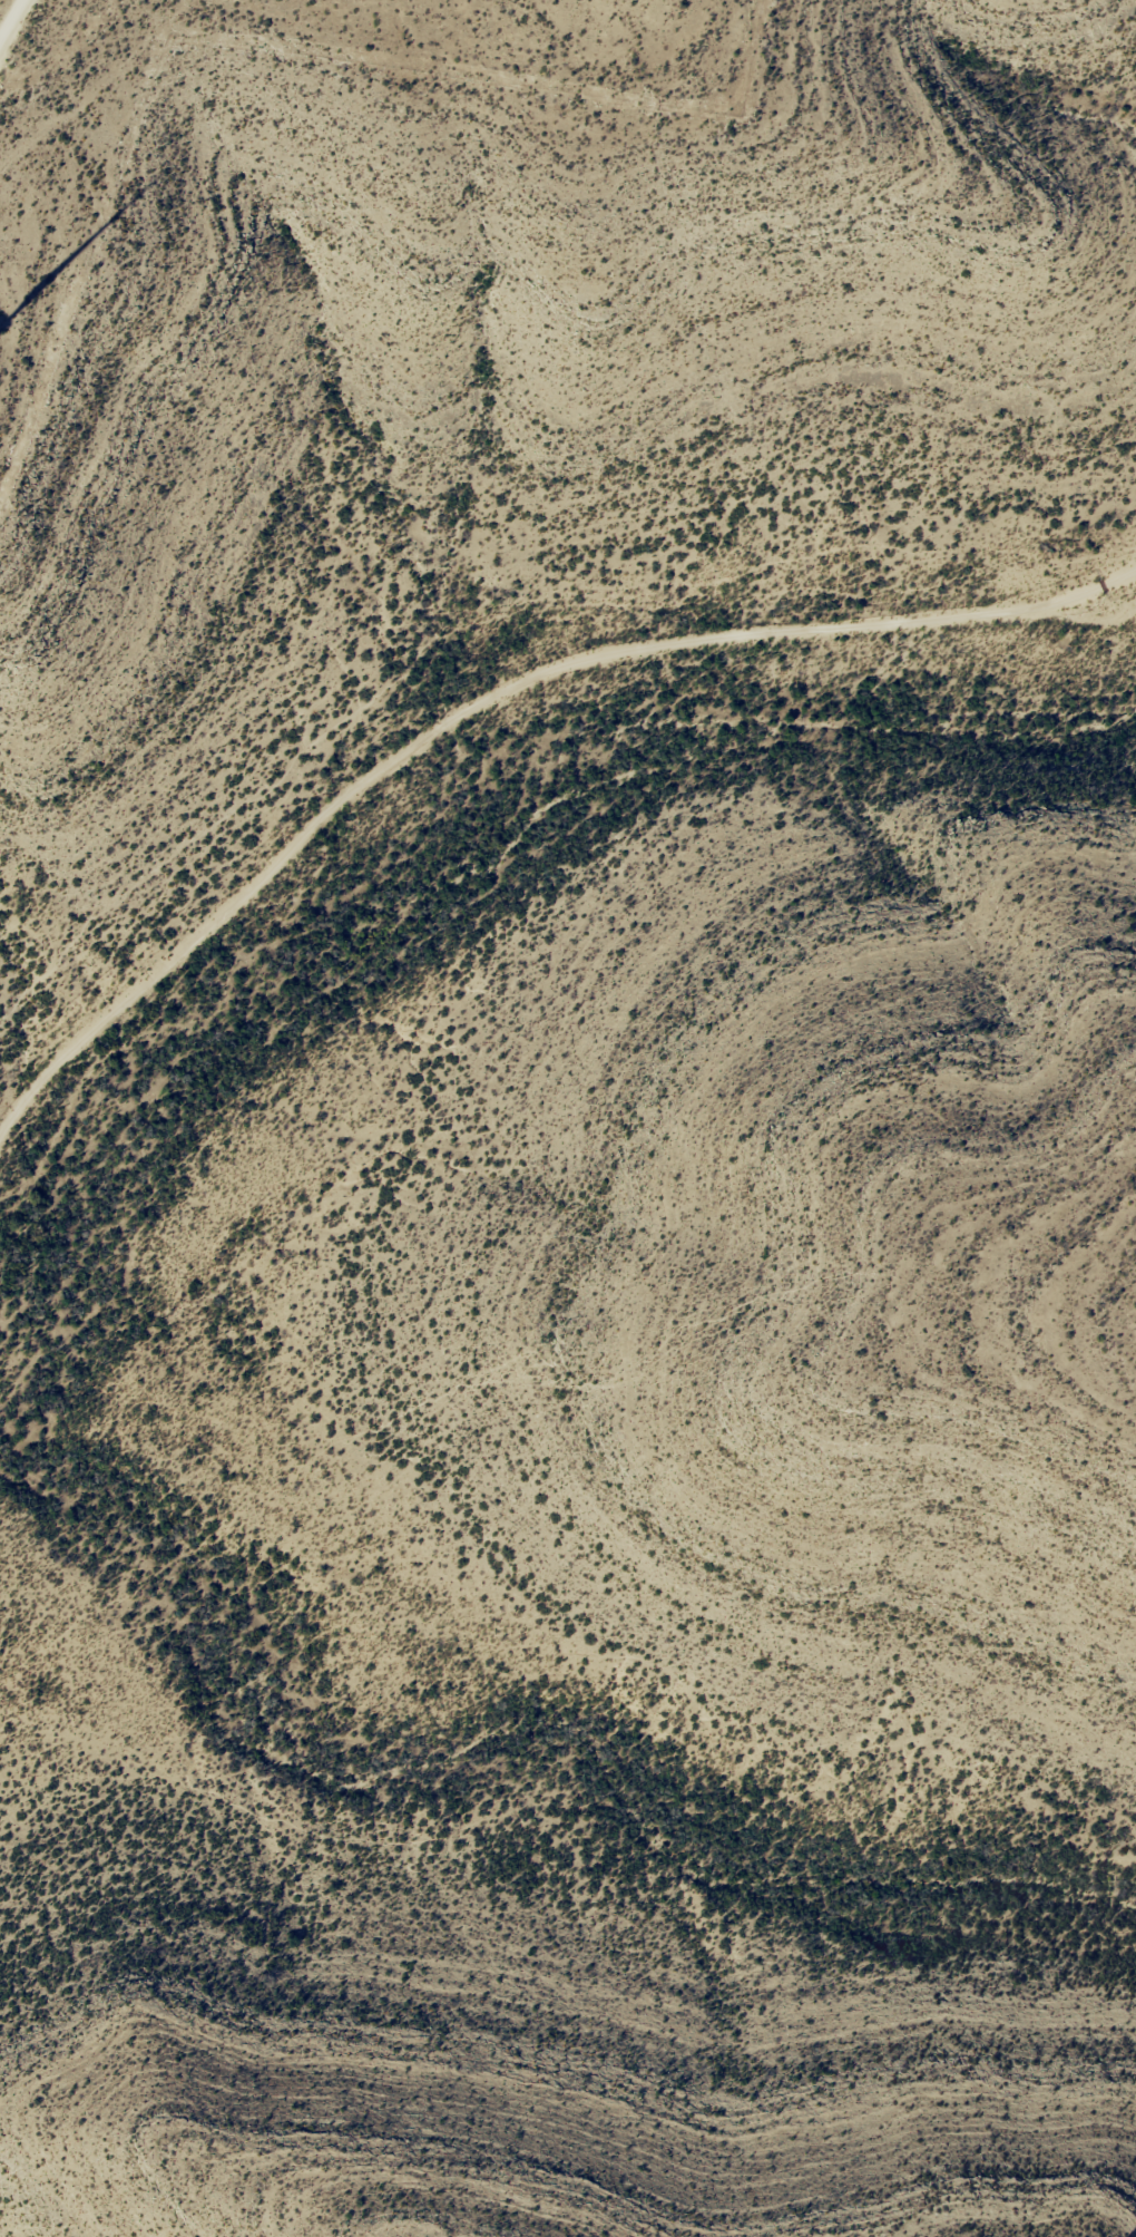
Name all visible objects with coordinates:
road: (493, 724)

